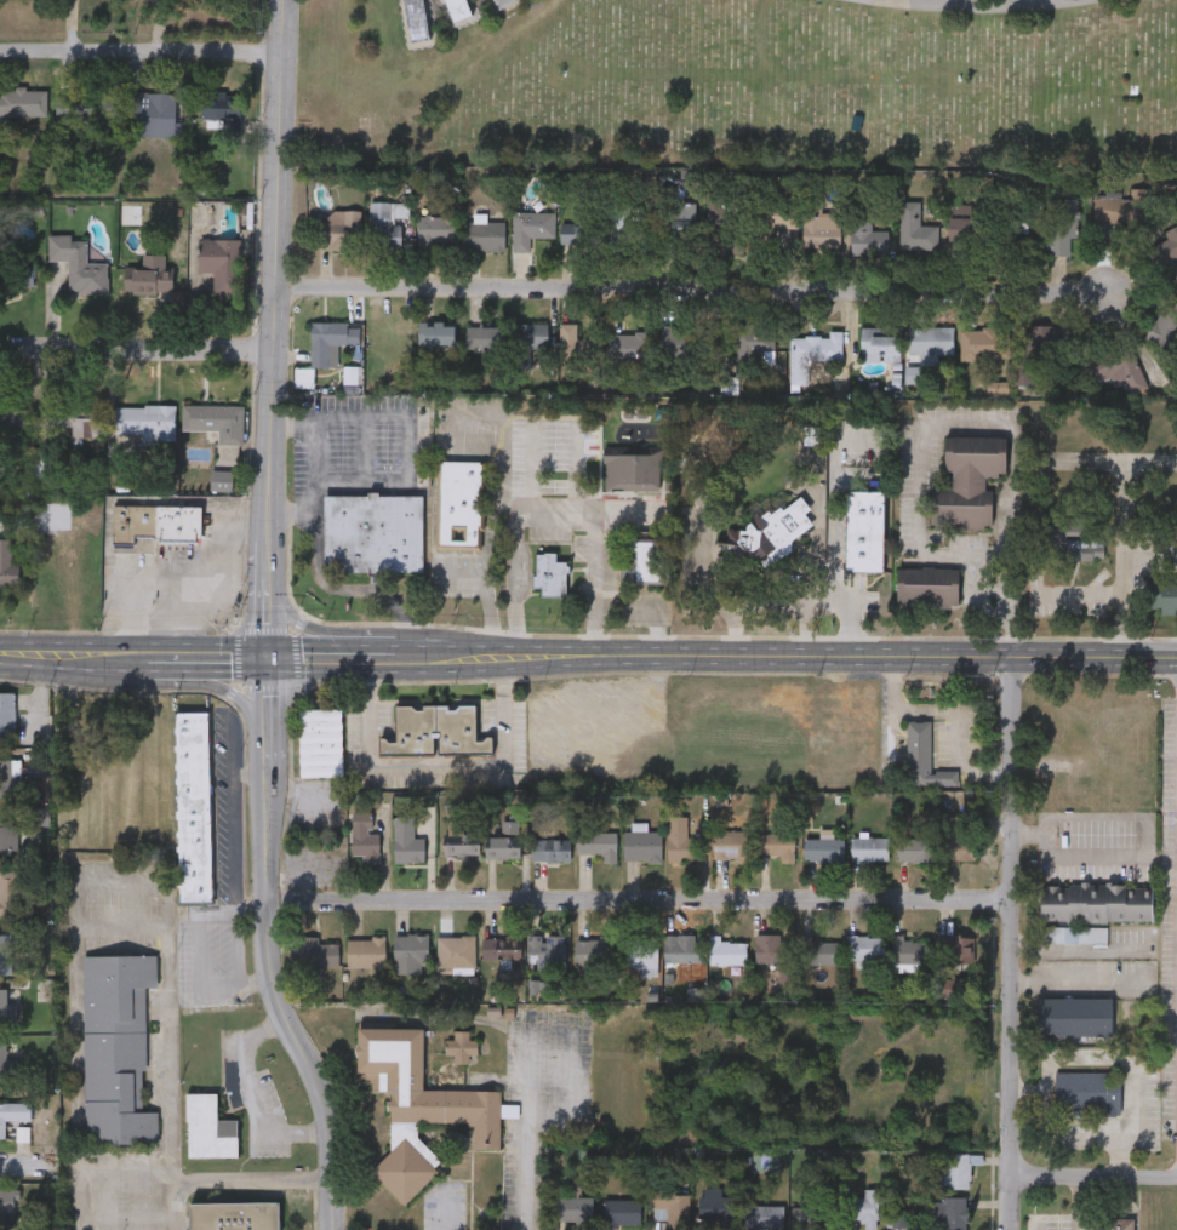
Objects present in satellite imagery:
road: (891, 1)
building: (502, 2)
road: (978, 6)
building: (457, 10)
building: (417, 21)
road: (141, 48)
park: (748, 76)
building: (22, 102)
building: (70, 108)
building: (103, 108)
building: (150, 111)
building: (219, 118)
building: (1120, 210)
building: (776, 216)
building: (680, 221)
building: (385, 224)
building: (622, 224)
building: (819, 225)
building: (1062, 227)
building: (530, 228)
building: (341, 229)
building: (915, 229)
building: (436, 230)
building: (726, 230)
building: (966, 230)
building: (1012, 231)
building: (581, 233)
building: (865, 234)
building: (485, 235)
building: (1167, 245)
road: (275, 253)
building: (217, 261)
building: (75, 262)
building: (17, 274)
building: (150, 279)
road: (690, 286)
building: (1165, 325)
building: (435, 334)
building: (528, 336)
building: (484, 337)
building: (1040, 341)
building: (326, 342)
building: (676, 342)
building: (930, 342)
building: (578, 343)
building: (632, 343)
building: (984, 343)
building: (880, 345)
building: (752, 347)
road: (136, 348)
building: (811, 354)
building: (1126, 370)
building: (143, 419)
building: (215, 419)
building: (74, 421)
building: (11, 425)
road: (318, 448)
building: (632, 470)
road: (434, 477)
building: (967, 481)
building: (459, 504)
road: (288, 510)
road: (516, 517)
building: (156, 521)
building: (777, 528)
road: (833, 528)
building: (864, 528)
road: (268, 530)
building: (372, 533)
road: (1132, 547)
road: (938, 560)
building: (647, 561)
building: (6, 563)
road: (162, 567)
road: (268, 570)
building: (549, 574)
road: (593, 580)
road: (710, 585)
building: (927, 588)
road: (350, 589)
building: (1162, 593)
road: (787, 605)
road: (269, 622)
road: (304, 623)
road: (372, 651)
road: (307, 652)
road: (447, 652)
traffic signals: (270, 653)
road: (508, 653)
road: (556, 653)
road: (64, 654)
road: (208, 654)
road: (884, 654)
road: (138, 656)
road: (213, 685)
road: (270, 692)
road: (949, 713)
building: (6, 715)
building: (435, 732)
building: (320, 742)
building: (745, 746)
building: (924, 757)
road: (433, 763)
road: (252, 773)
building: (10, 777)
building: (194, 805)
road: (233, 813)
road: (1135, 818)
building: (8, 835)
building: (364, 837)
building: (954, 837)
building: (406, 841)
building: (502, 841)
building: (680, 842)
building: (459, 843)
building: (595, 843)
building: (776, 845)
building: (641, 846)
building: (731, 846)
building: (868, 848)
building: (549, 849)
building: (915, 849)
building: (823, 851)
road: (78, 885)
building: (10, 894)
building: (1096, 902)
road: (635, 903)
road: (1007, 942)
building: (5, 948)
building: (499, 948)
road: (199, 949)
building: (769, 949)
building: (864, 949)
building: (958, 949)
building: (545, 950)
building: (456, 951)
building: (593, 951)
building: (682, 951)
building: (725, 951)
building: (818, 951)
building: (319, 952)
building: (365, 952)
building: (636, 952)
building: (410, 954)
building: (909, 954)
road: (1070, 983)
road: (269, 985)
building: (6, 1007)
building: (1074, 1017)
building: (463, 1047)
building: (118, 1049)
building: (5, 1057)
road: (1112, 1059)
road: (527, 1066)
building: (1086, 1092)
road: (253, 1098)
building: (418, 1106)
building: (13, 1112)
building: (210, 1127)
road: (29, 1166)
building: (956, 1169)
road: (1091, 1174)
road: (251, 1179)
road: (1081, 1202)
building: (7, 1206)
building: (716, 1206)
building: (573, 1208)
building: (670, 1208)
building: (863, 1208)
road: (444, 1212)
building: (622, 1212)
building: (899, 1212)
building: (949, 1213)
building: (235, 1215)
building: (762, 1217)
building: (812, 1217)
road: (173, 1222)
building: (1116, 1224)

